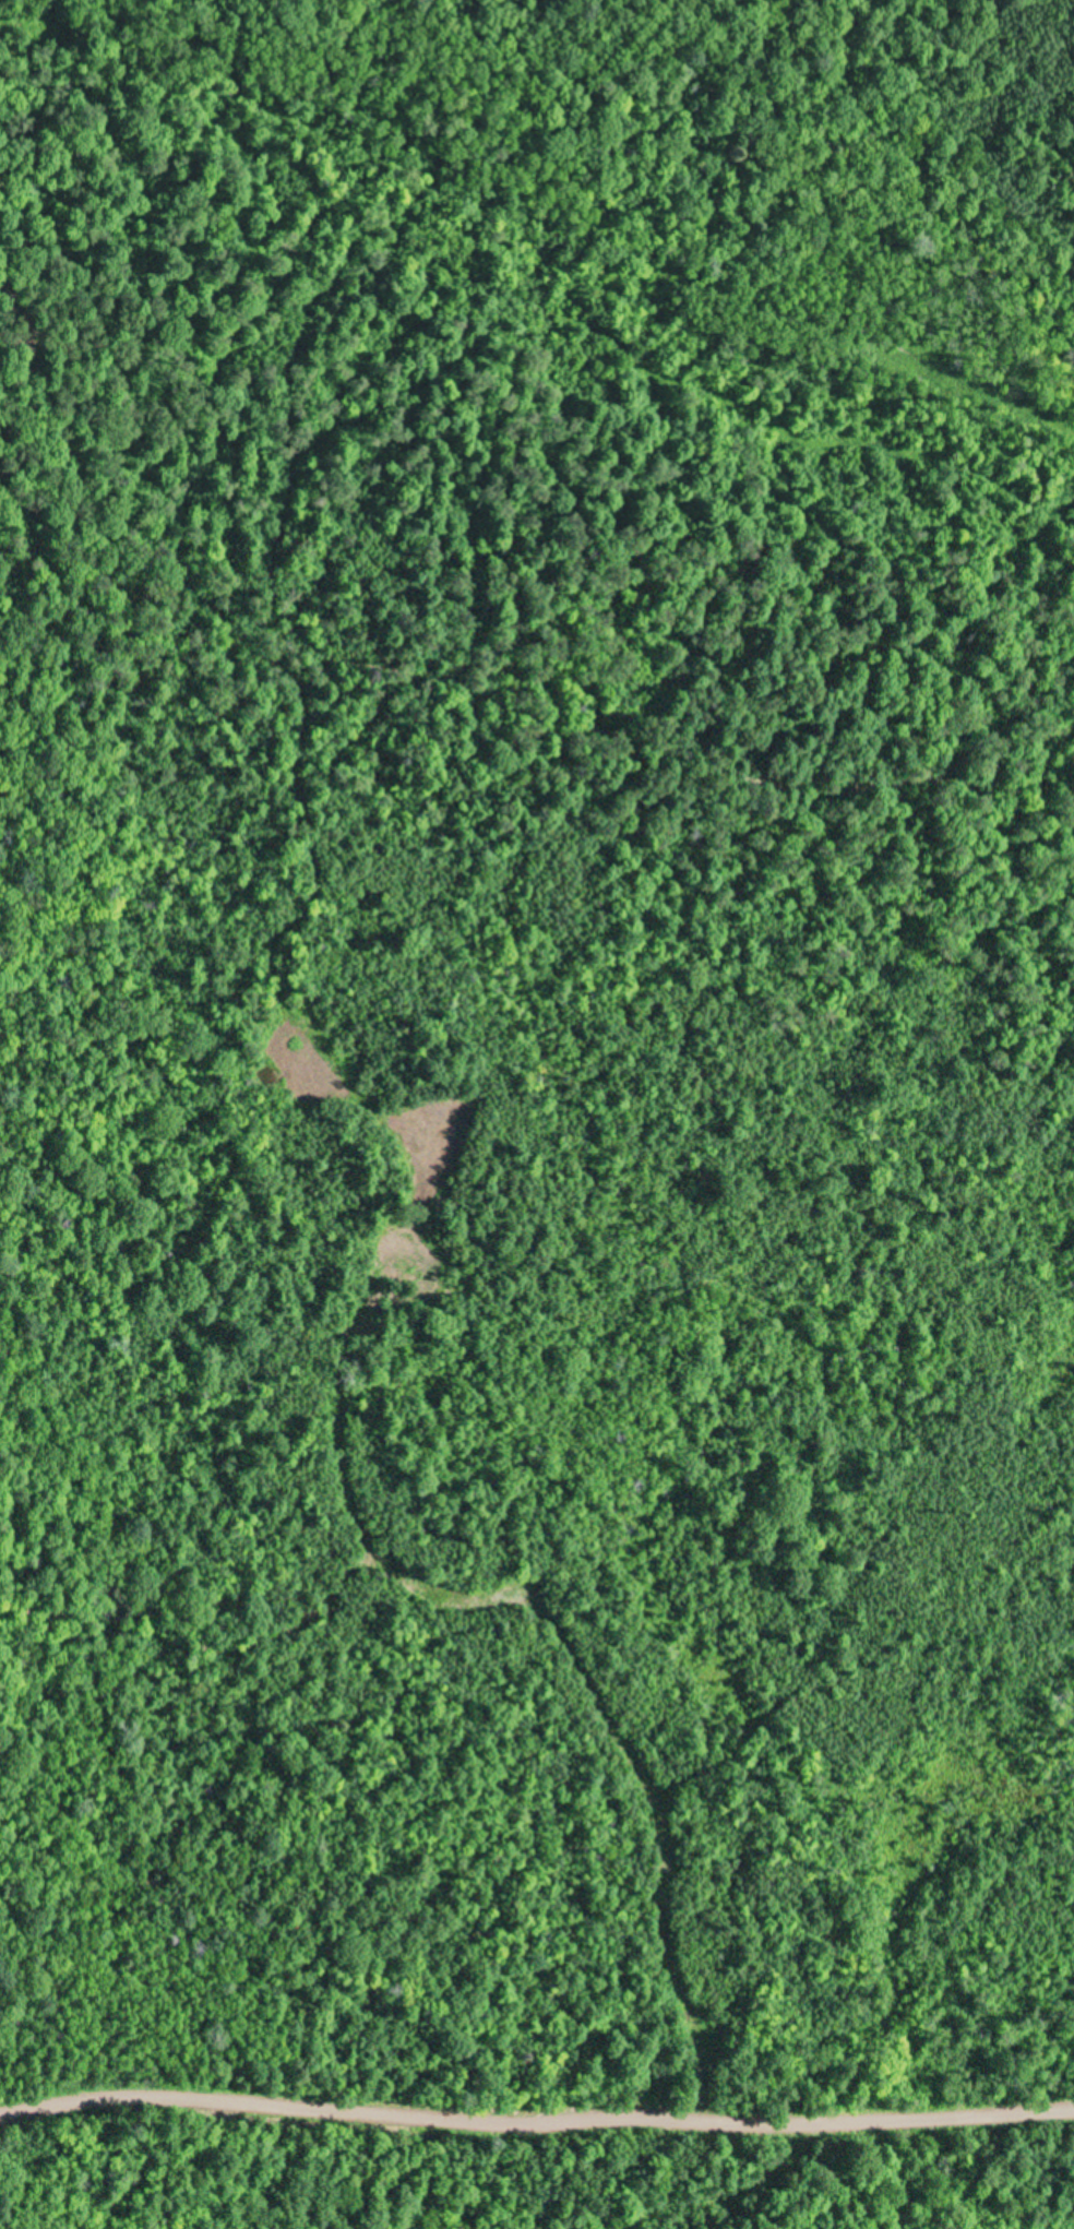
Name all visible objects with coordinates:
road: (535, 2123)

